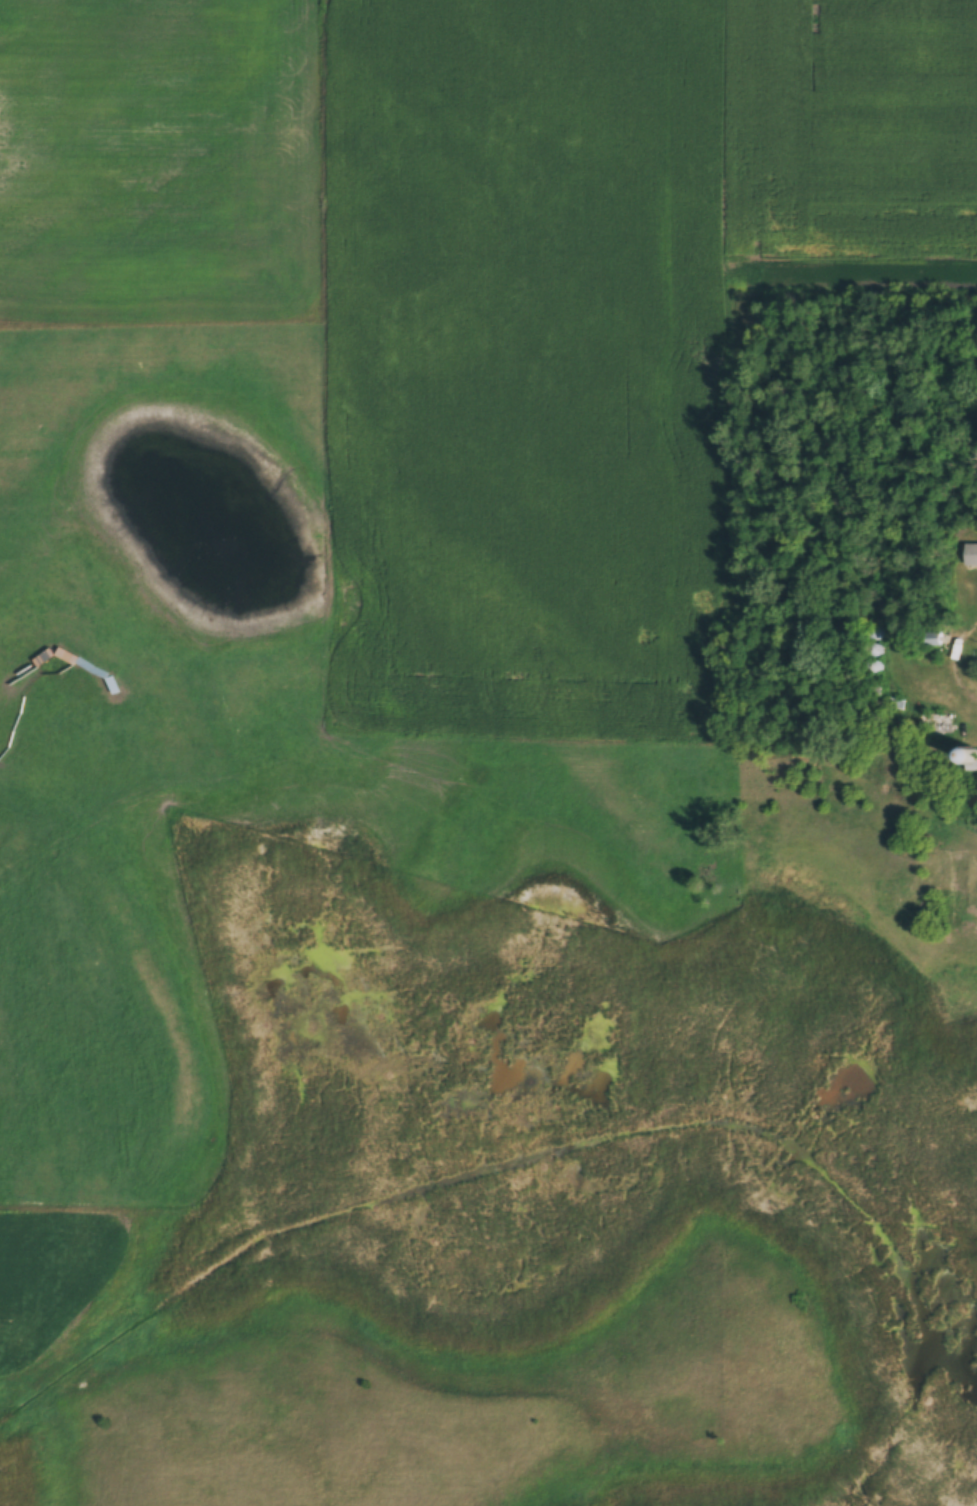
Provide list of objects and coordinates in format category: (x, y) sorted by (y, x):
building: (971, 556)
road: (952, 656)
building: (971, 767)

